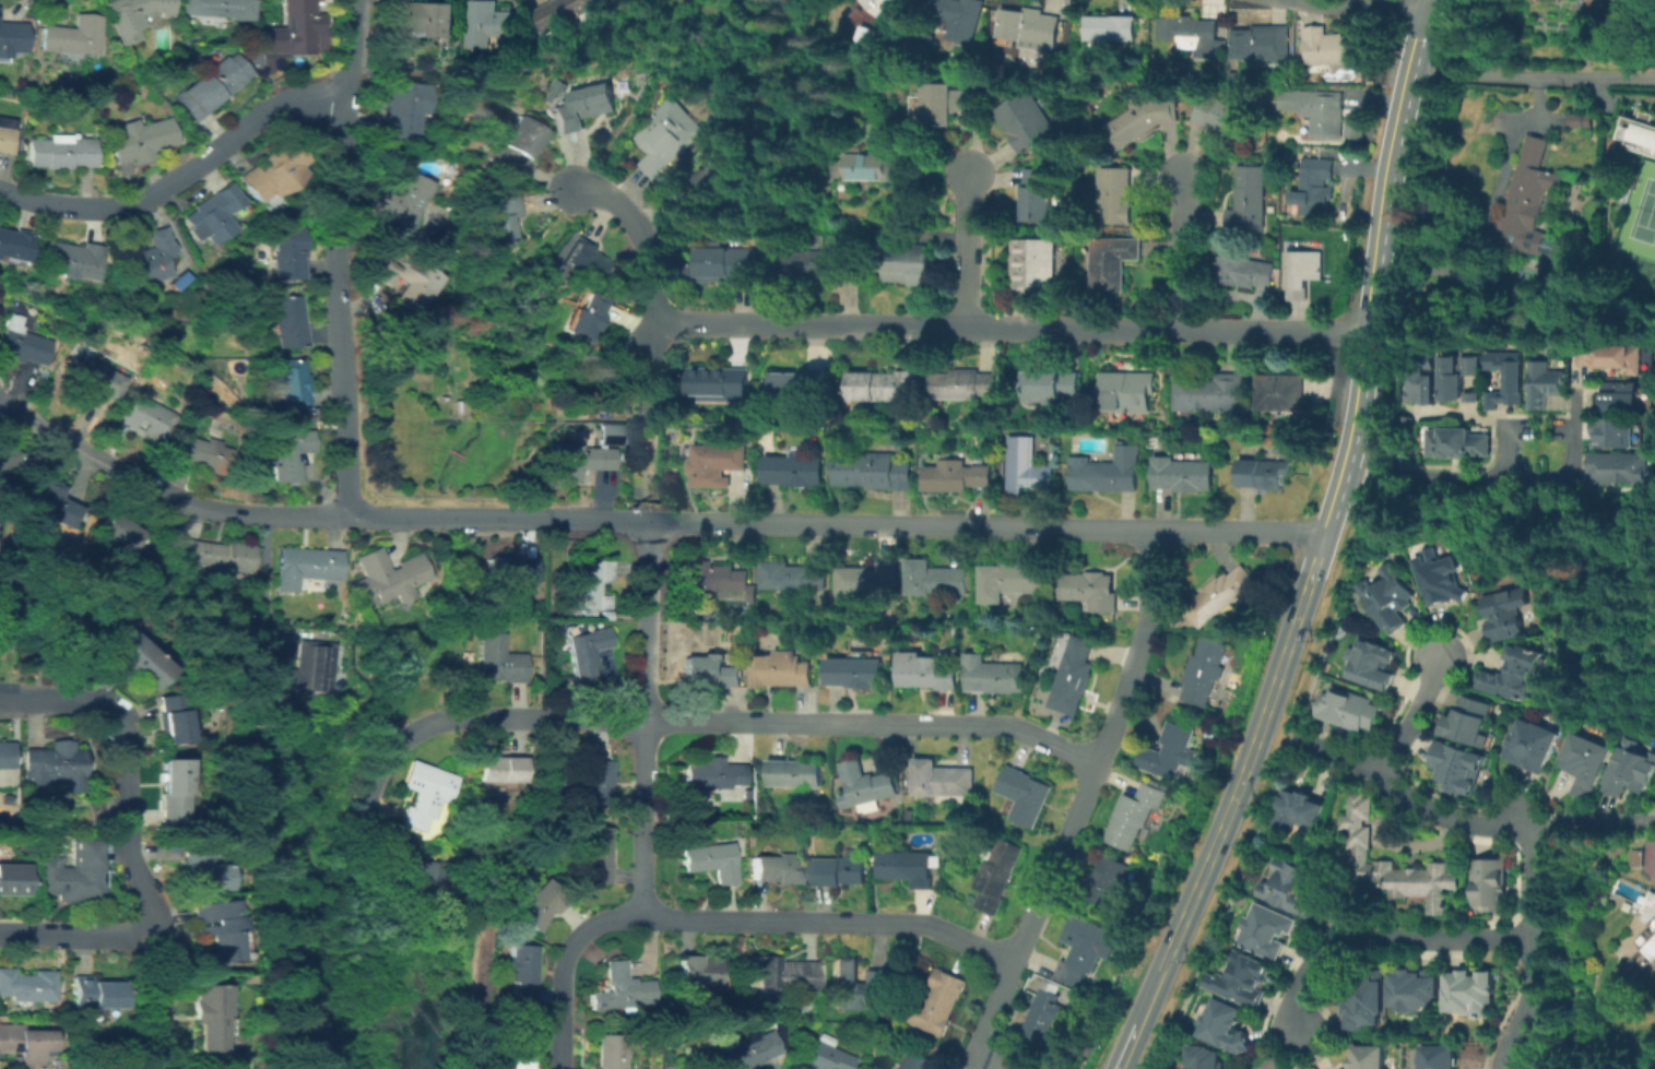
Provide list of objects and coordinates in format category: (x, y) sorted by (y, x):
building: (1585, 2)
road: (1397, 4)
building: (885, 7)
building: (218, 9)
building: (567, 13)
building: (133, 15)
building: (960, 17)
building: (423, 19)
building: (487, 23)
building: (1030, 28)
building: (1112, 28)
building: (289, 34)
building: (1191, 35)
building: (72, 37)
building: (12, 38)
building: (447, 45)
building: (923, 45)
building: (1263, 45)
road: (346, 50)
building: (1335, 51)
road: (1532, 78)
building: (211, 85)
building: (557, 85)
road: (1621, 92)
building: (946, 104)
building: (583, 107)
building: (401, 108)
building: (1315, 108)
building: (1221, 116)
building: (1575, 119)
building: (1027, 122)
building: (1140, 122)
building: (1356, 127)
building: (1642, 129)
building: (669, 138)
building: (5, 139)
building: (139, 140)
building: (518, 145)
building: (59, 153)
building: (885, 165)
building: (273, 173)
road: (177, 174)
building: (718, 179)
building: (1315, 181)
building: (1036, 195)
building: (1115, 197)
building: (406, 200)
building: (1251, 200)
road: (1486, 207)
building: (1530, 207)
building: (212, 214)
building: (503, 217)
road: (1378, 237)
building: (11, 245)
road: (970, 250)
road: (1182, 251)
building: (288, 252)
building: (144, 259)
building: (64, 261)
building: (586, 262)
building: (725, 264)
building: (821, 265)
building: (906, 266)
building: (1113, 266)
building: (1031, 268)
building: (1244, 273)
building: (1307, 273)
building: (409, 284)
road: (333, 308)
building: (586, 317)
building: (288, 322)
road: (858, 326)
road: (1302, 333)
building: (32, 335)
road: (654, 343)
building: (1615, 357)
building: (96, 378)
building: (1461, 378)
building: (1509, 379)
building: (292, 384)
building: (718, 384)
building: (962, 384)
building: (1051, 384)
building: (1546, 384)
building: (799, 385)
building: (886, 389)
building: (1423, 390)
building: (1127, 392)
building: (1210, 393)
building: (1279, 394)
building: (1622, 397)
building: (145, 417)
road: (1504, 419)
building: (843, 421)
building: (1407, 423)
building: (1613, 433)
building: (615, 435)
building: (684, 436)
building: (1458, 443)
building: (199, 453)
building: (286, 454)
building: (625, 458)
building: (579, 461)
building: (5, 462)
building: (716, 464)
building: (1620, 465)
building: (1027, 467)
building: (868, 470)
building: (794, 472)
building: (1262, 474)
building: (1107, 475)
building: (1182, 475)
building: (955, 476)
road: (1482, 478)
road: (164, 494)
building: (54, 506)
road: (1332, 506)
road: (499, 516)
road: (985, 525)
building: (120, 539)
building: (218, 557)
road: (1311, 567)
building: (307, 570)
building: (510, 570)
building: (390, 577)
building: (790, 578)
building: (1438, 578)
building: (935, 579)
building: (711, 580)
building: (868, 580)
building: (1009, 580)
road: (262, 582)
building: (589, 585)
building: (1089, 590)
building: (1387, 598)
building: (1222, 599)
building: (571, 613)
building: (1509, 615)
road: (647, 621)
building: (55, 627)
building: (685, 627)
road: (1139, 650)
building: (587, 652)
building: (742, 657)
building: (499, 661)
building: (139, 662)
building: (1372, 665)
building: (709, 672)
building: (923, 672)
building: (1205, 672)
building: (311, 673)
building: (780, 673)
building: (854, 673)
building: (1074, 675)
building: (993, 676)
building: (1513, 676)
building: (1348, 710)
road: (475, 716)
road: (1417, 716)
building: (170, 718)
building: (1471, 723)
road: (874, 725)
building: (1535, 747)
building: (1169, 752)
building: (5, 756)
building: (1589, 765)
building: (55, 767)
building: (1462, 769)
building: (501, 770)
building: (1633, 771)
building: (793, 773)
building: (712, 774)
building: (941, 780)
building: (1163, 781)
building: (596, 785)
building: (864, 787)
building: (172, 793)
building: (745, 795)
building: (426, 796)
building: (1024, 796)
road: (1232, 796)
road: (1416, 801)
building: (909, 815)
building: (1299, 816)
building: (1133, 817)
road: (645, 820)
road: (1589, 820)
road: (127, 839)
building: (596, 854)
building: (1636, 856)
building: (873, 858)
building: (710, 862)
building: (1396, 866)
building: (906, 868)
building: (201, 869)
building: (776, 869)
building: (839, 872)
building: (72, 875)
building: (996, 876)
building: (11, 880)
building: (1108, 881)
building: (1493, 886)
building: (1289, 889)
building: (427, 892)
building: (539, 905)
road: (1033, 916)
road: (730, 920)
building: (217, 927)
building: (1265, 931)
road: (76, 935)
road: (1385, 940)
building: (1645, 943)
road: (1537, 947)
building: (1088, 949)
building: (699, 971)
building: (520, 972)
building: (781, 975)
building: (249, 979)
building: (1241, 982)
building: (854, 984)
building: (26, 987)
building: (622, 989)
building: (1416, 993)
building: (95, 994)
building: (746, 994)
building: (1473, 995)
building: (679, 996)
building: (1367, 1001)
building: (938, 1007)
building: (747, 1010)
building: (1042, 1017)
building: (213, 1018)
building: (780, 1026)
road: (1133, 1026)
building: (1225, 1030)
building: (1067, 1041)
building: (517, 1043)
building: (25, 1045)
building: (612, 1052)
building: (745, 1052)
building: (821, 1055)
building: (1369, 1058)
building: (1439, 1058)
building: (1204, 1059)
building: (914, 1061)
building: (873, 1068)
road: (967, 1068)
road: (970, 1068)

